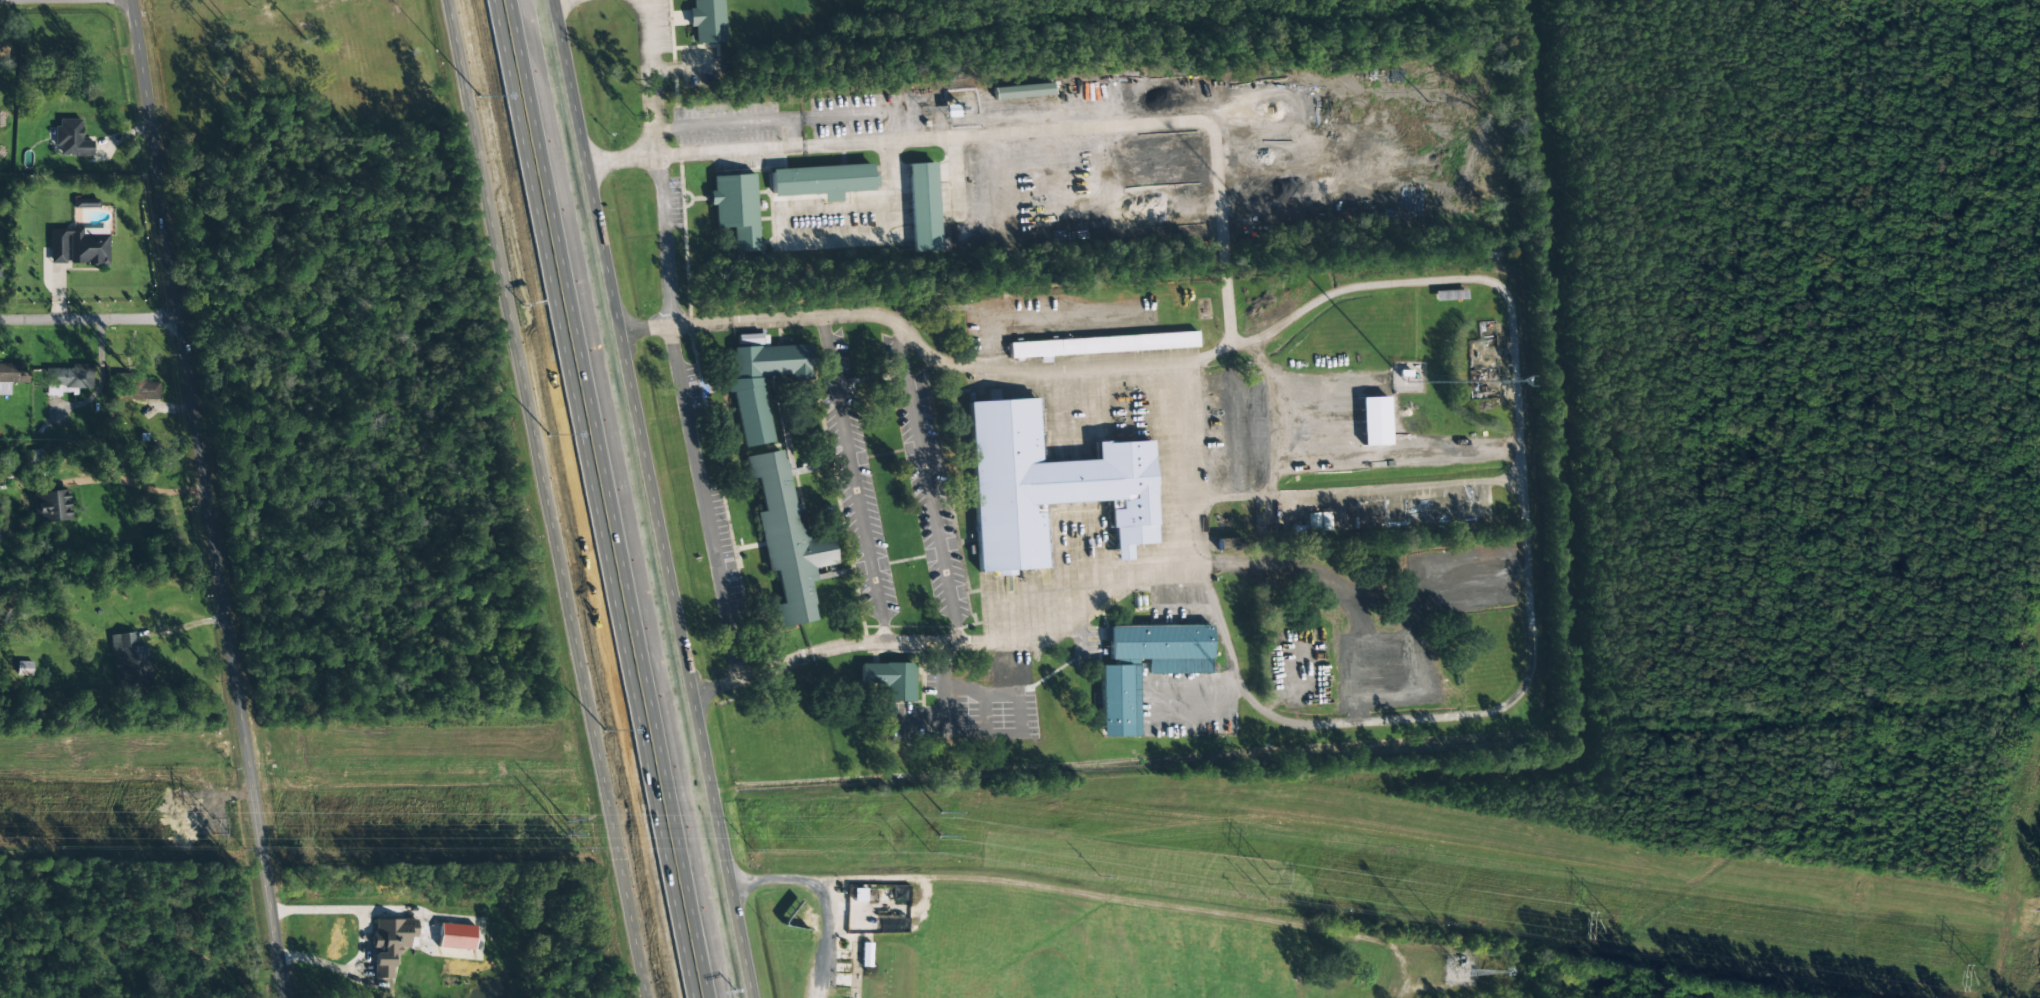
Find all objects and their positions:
building: (722, 17)
building: (1025, 91)
road: (1017, 130)
building: (71, 138)
building: (836, 174)
building: (937, 200)
building: (752, 201)
building: (85, 203)
building: (923, 207)
building: (78, 247)
building: (0, 270)
road: (90, 320)
road: (693, 336)
building: (1115, 338)
road: (946, 350)
building: (11, 376)
building: (67, 380)
building: (761, 380)
building: (137, 388)
road: (874, 474)
building: (1060, 480)
road: (945, 481)
road: (611, 498)
road: (208, 499)
road: (544, 499)
road: (590, 499)
road: (652, 499)
building: (51, 506)
building: (804, 535)
building: (1, 536)
building: (1230, 544)
road: (1549, 624)
road: (849, 645)
building: (130, 661)
building: (906, 673)
building: (890, 679)
building: (1133, 700)
power tower: (211, 825)
power tower: (921, 828)
power tower: (569, 831)
road: (1097, 885)
power tower: (1611, 928)
road: (847, 936)
building: (456, 937)
park: (1112, 938)
building: (390, 943)

